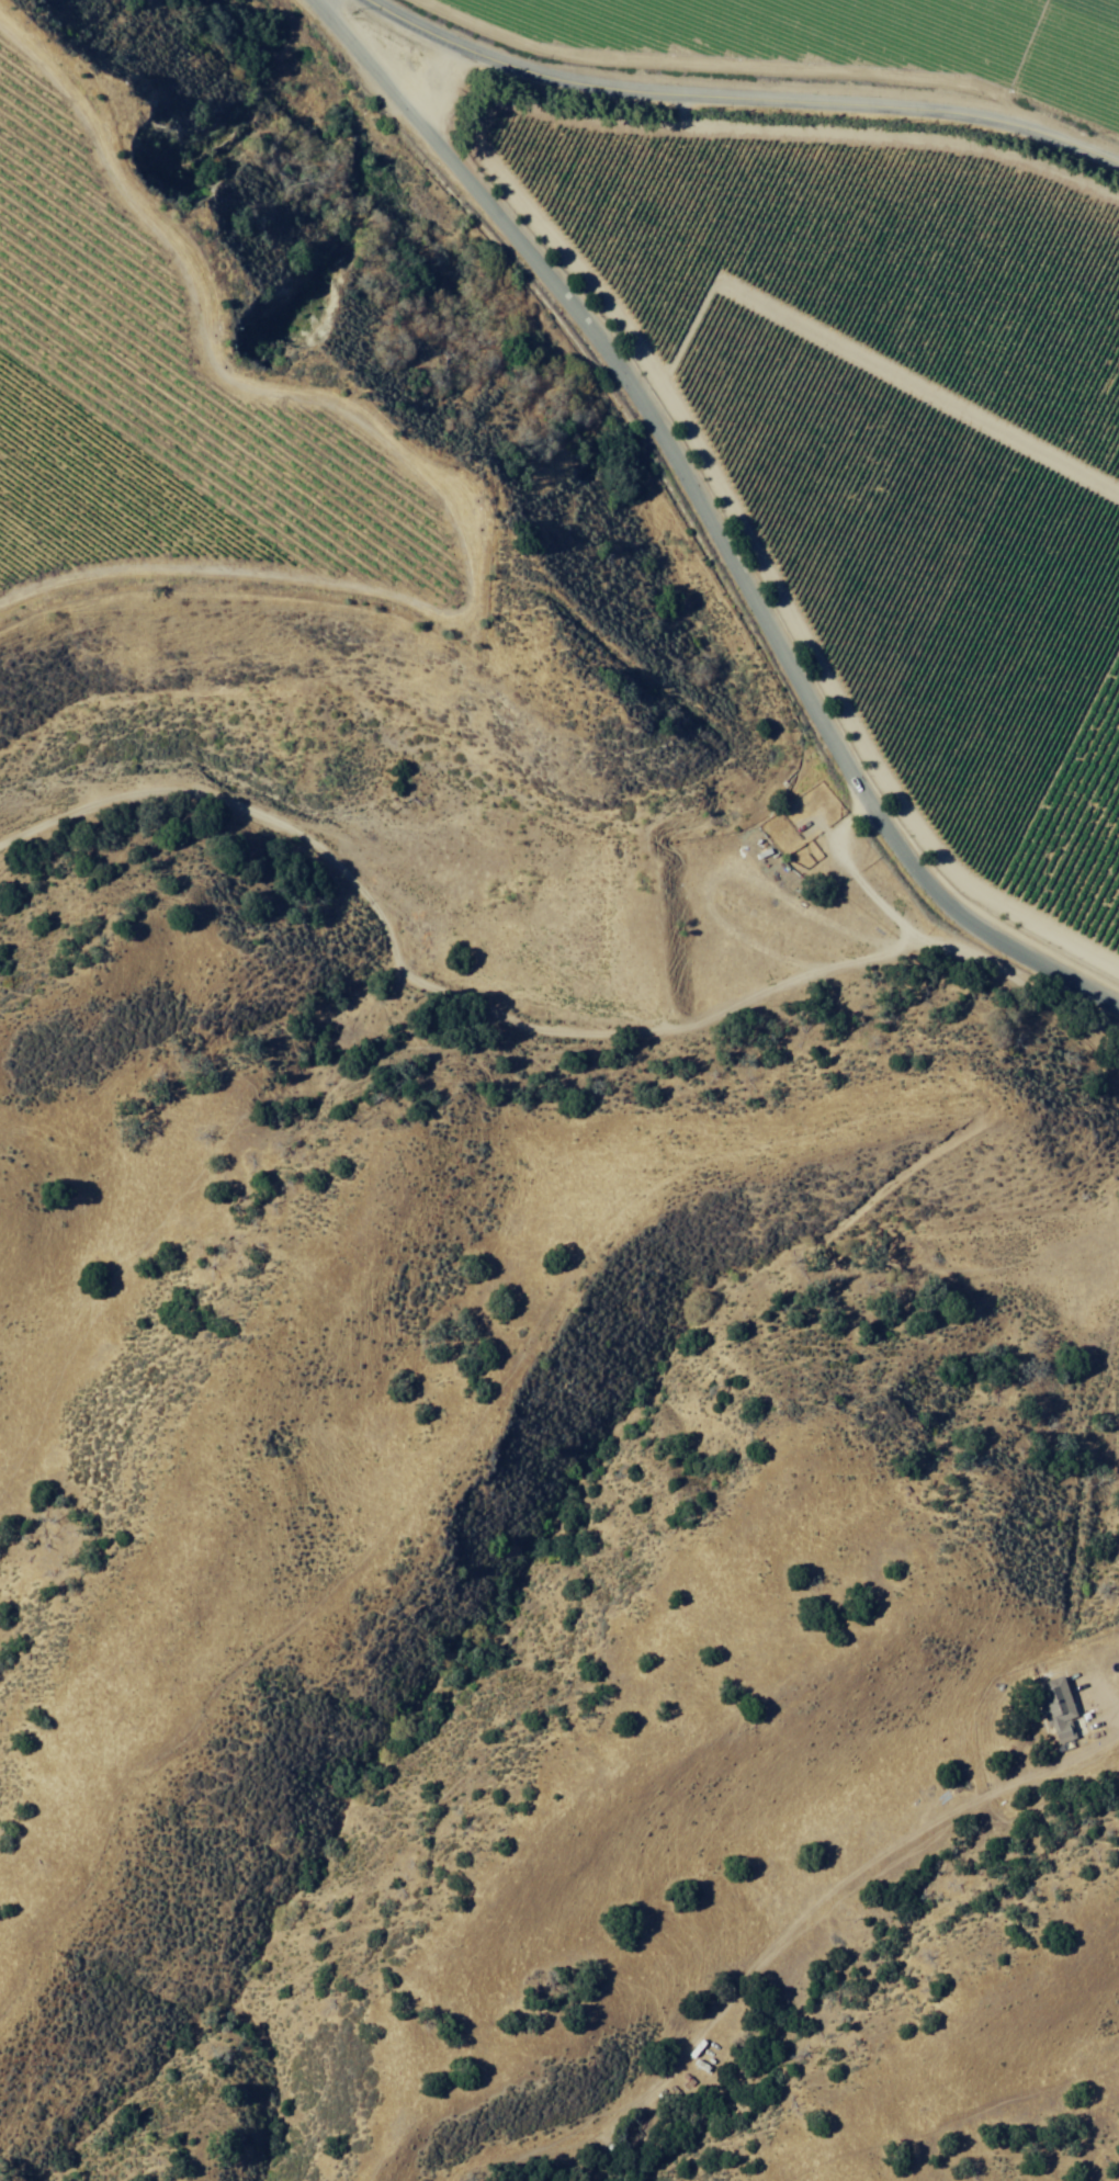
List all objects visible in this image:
road: (742, 93)
road: (710, 520)
road: (504, 1017)
building: (1059, 1708)

